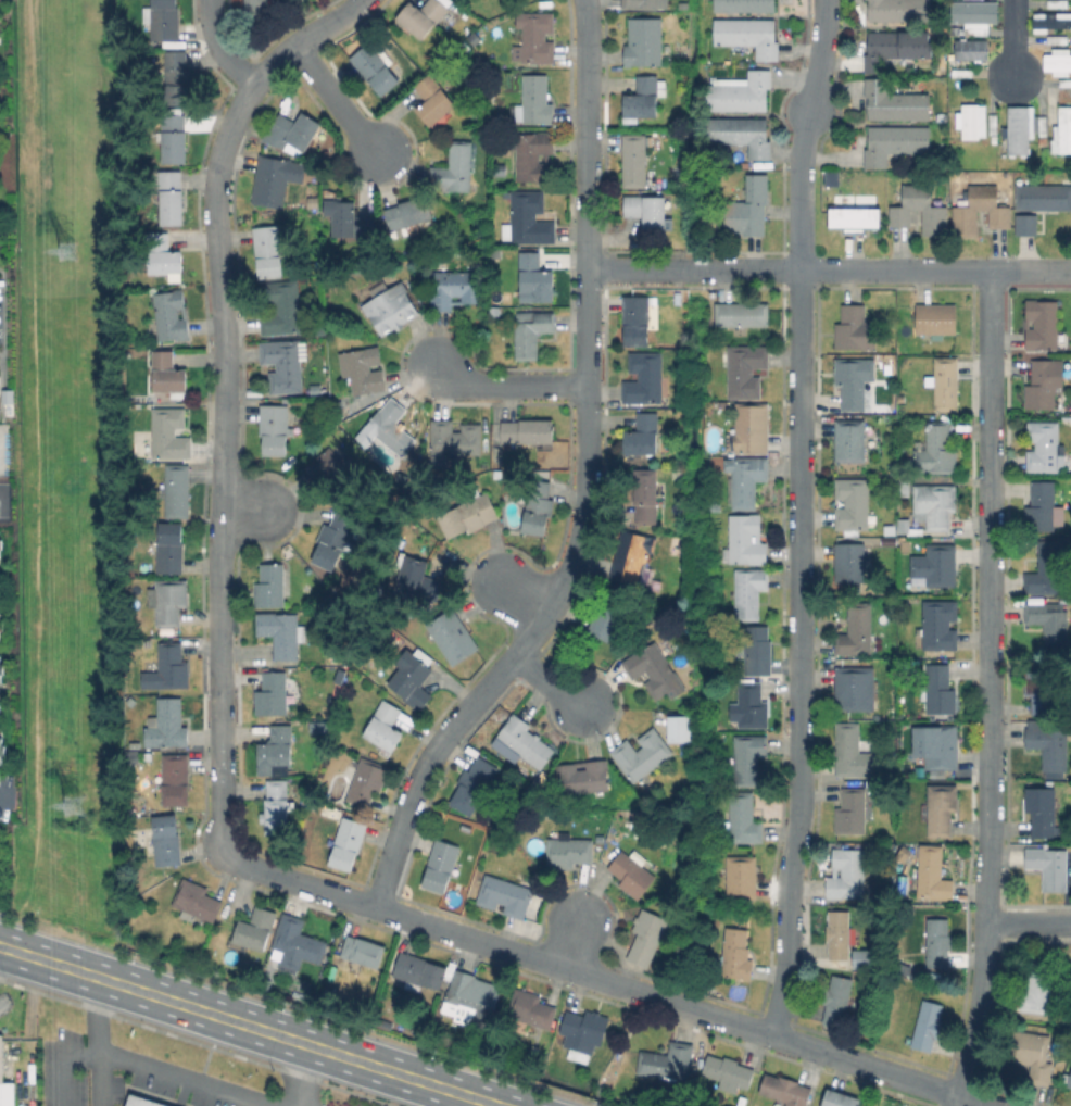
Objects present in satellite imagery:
building: (1058, 3)
building: (640, 4)
building: (744, 5)
building: (256, 9)
building: (899, 10)
building: (974, 15)
building: (421, 16)
building: (163, 20)
building: (1051, 22)
building: (955, 30)
building: (748, 36)
building: (474, 38)
building: (537, 38)
building: (1058, 39)
road: (1015, 40)
building: (644, 42)
road: (219, 46)
building: (891, 47)
building: (466, 48)
building: (972, 54)
building: (1058, 61)
building: (375, 68)
building: (177, 78)
building: (1064, 81)
road: (816, 84)
building: (741, 93)
building: (643, 99)
building: (433, 100)
building: (535, 101)
road: (338, 102)
building: (895, 102)
building: (972, 120)
building: (1020, 129)
building: (1063, 129)
building: (291, 131)
building: (741, 135)
building: (174, 139)
building: (994, 139)
building: (894, 142)
building: (532, 155)
building: (2, 158)
building: (634, 161)
building: (455, 167)
building: (500, 169)
building: (270, 180)
building: (1043, 197)
building: (172, 198)
building: (312, 200)
building: (748, 209)
building: (648, 212)
building: (408, 213)
road: (801, 215)
building: (934, 217)
building: (854, 218)
building: (349, 219)
building: (528, 219)
building: (962, 219)
building: (1026, 224)
power tower: (66, 249)
building: (268, 251)
building: (163, 255)
road: (829, 269)
building: (534, 278)
building: (456, 289)
building: (390, 306)
building: (282, 309)
building: (741, 314)
building: (172, 316)
building: (935, 319)
building: (637, 322)
building: (1041, 324)
building: (318, 329)
building: (856, 329)
building: (531, 332)
building: (283, 365)
building: (363, 369)
building: (744, 370)
building: (166, 374)
building: (644, 378)
road: (509, 384)
building: (856, 384)
building: (945, 384)
building: (1042, 385)
road: (225, 403)
building: (391, 427)
building: (274, 428)
building: (752, 428)
building: (527, 431)
building: (169, 435)
building: (642, 436)
building: (453, 440)
building: (849, 440)
building: (1044, 447)
building: (937, 449)
building: (542, 456)
building: (335, 474)
building: (746, 479)
road: (585, 482)
building: (902, 482)
building: (177, 491)
building: (645, 495)
building: (853, 503)
road: (244, 506)
building: (934, 506)
building: (538, 507)
building: (1042, 507)
building: (469, 514)
building: (904, 527)
building: (332, 540)
building: (746, 540)
building: (1, 544)
building: (169, 548)
building: (632, 557)
building: (849, 562)
building: (935, 566)
building: (1046, 569)
building: (417, 580)
building: (270, 586)
road: (520, 591)
building: (748, 592)
building: (168, 601)
building: (607, 620)
building: (1049, 621)
building: (940, 625)
building: (2, 627)
building: (856, 631)
building: (282, 633)
building: (453, 637)
road: (799, 649)
building: (756, 651)
building: (654, 667)
building: (168, 669)
building: (1, 675)
building: (413, 682)
road: (556, 682)
building: (852, 687)
road: (992, 689)
building: (938, 690)
building: (1041, 691)
building: (273, 694)
building: (131, 702)
building: (752, 705)
building: (166, 725)
building: (385, 725)
building: (676, 728)
building: (524, 742)
building: (941, 746)
building: (1049, 746)
building: (277, 747)
building: (0, 752)
building: (854, 753)
building: (642, 754)
building: (748, 757)
building: (134, 758)
building: (583, 777)
building: (175, 780)
building: (367, 781)
building: (474, 784)
road: (0, 791)
power tower: (70, 804)
building: (277, 807)
building: (941, 808)
building: (1042, 810)
building: (850, 812)
building: (743, 818)
building: (166, 838)
building: (348, 843)
building: (568, 852)
building: (441, 866)
building: (1049, 866)
building: (632, 874)
building: (932, 874)
building: (847, 875)
building: (741, 877)
building: (505, 895)
building: (196, 901)
road: (1029, 922)
road: (439, 925)
building: (255, 929)
building: (840, 938)
road: (570, 939)
building: (648, 940)
building: (938, 942)
building: (297, 944)
road: (1, 947)
building: (363, 952)
building: (736, 954)
building: (859, 958)
building: (419, 971)
building: (1038, 989)
road: (653, 991)
building: (470, 1000)
building: (836, 1000)
building: (530, 1009)
building: (928, 1026)
road: (249, 1027)
building: (584, 1031)
road: (96, 1042)
road: (833, 1051)
building: (1033, 1055)
building: (667, 1061)
building: (729, 1071)
road: (306, 1077)
road: (176, 1079)
building: (1070, 1081)
building: (5, 1082)
building: (785, 1090)
building: (840, 1099)
building: (137, 1102)

